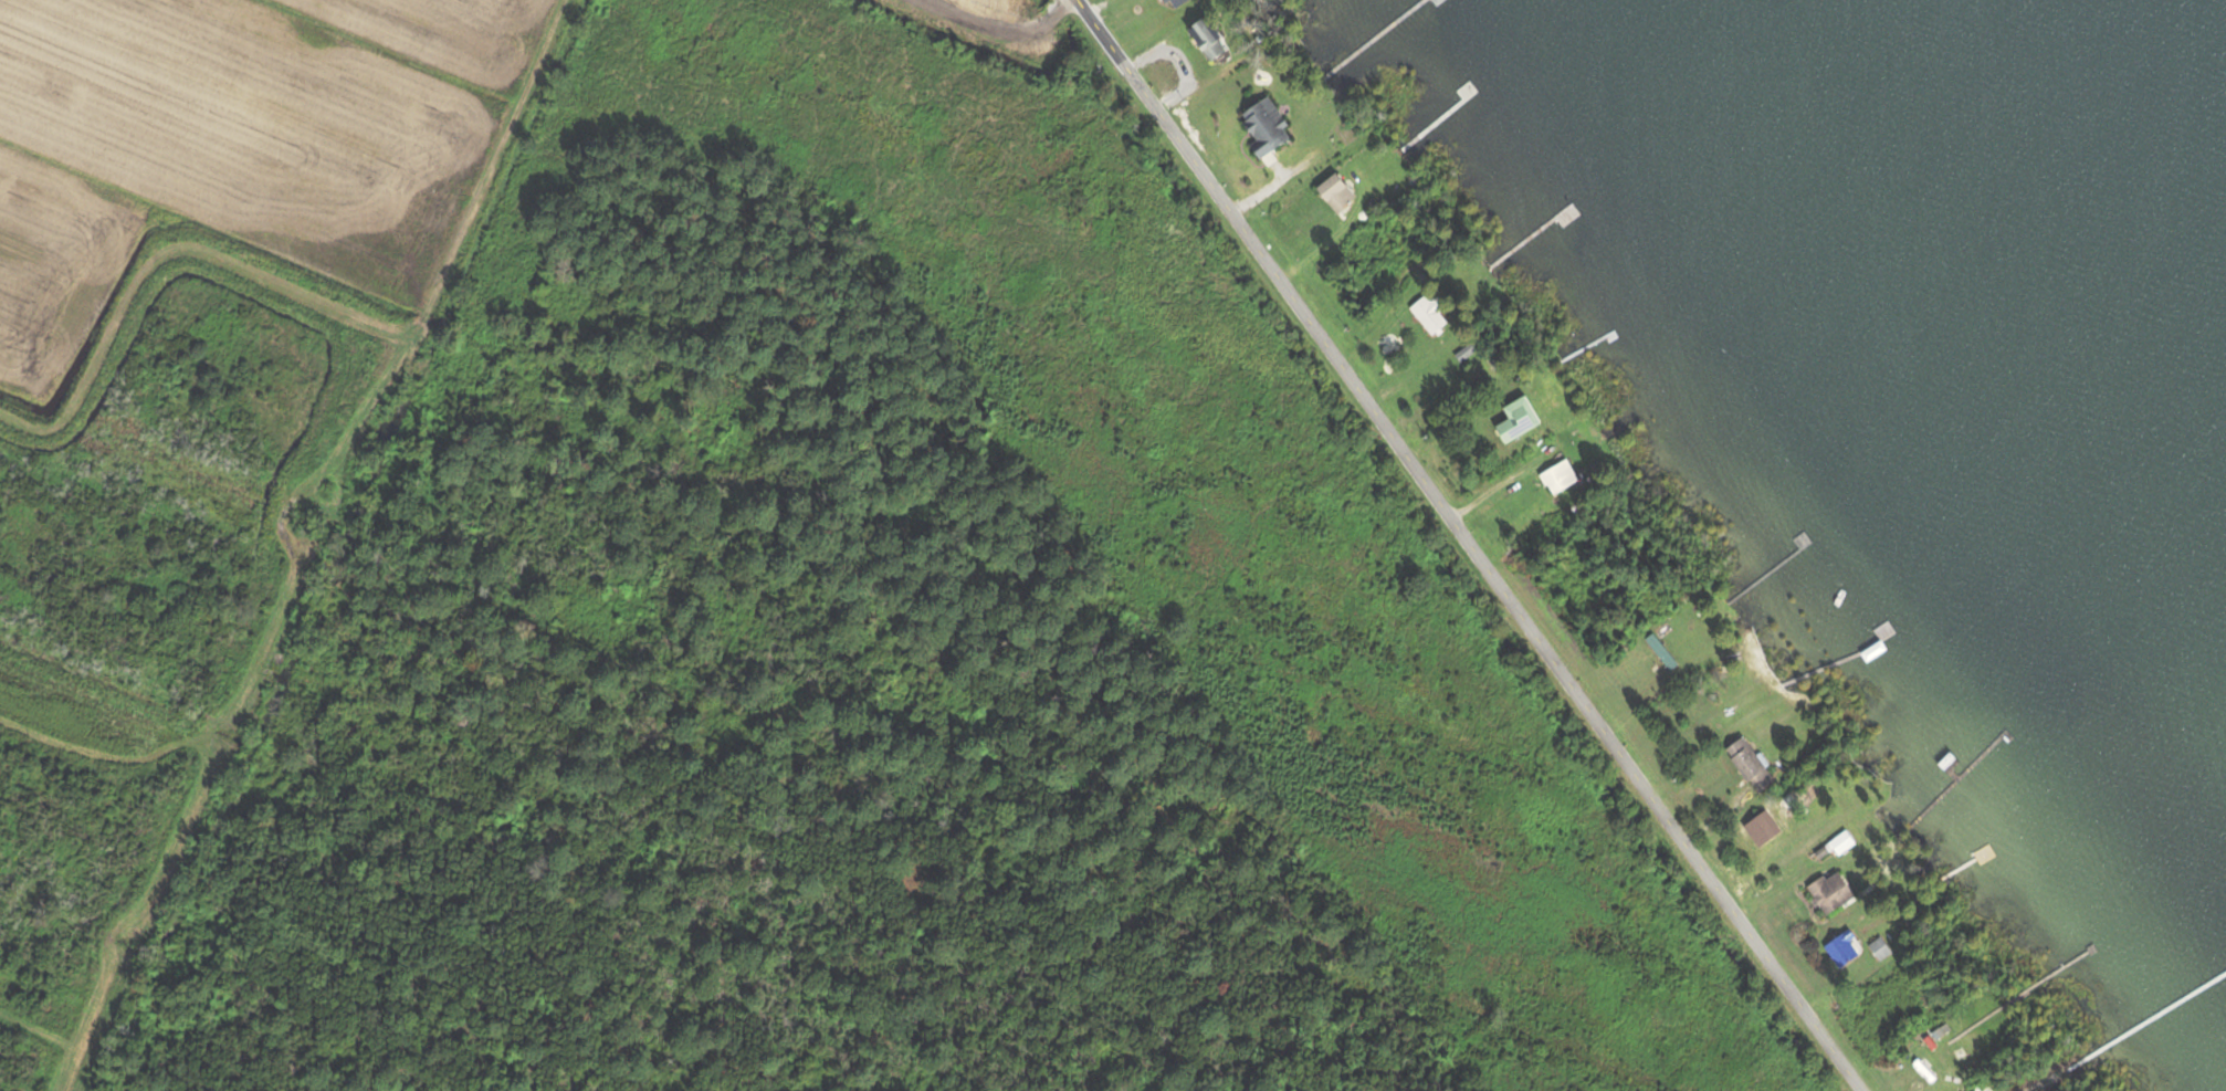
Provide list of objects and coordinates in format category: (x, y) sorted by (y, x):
building: (1173, 2)
building: (1435, 2)
crop: (990, 9)
road: (999, 28)
building: (1204, 36)
crop: (233, 141)
building: (1331, 192)
building: (1425, 314)
building: (1463, 352)
building: (1511, 420)
building: (1555, 476)
road: (315, 545)
road: (1470, 545)
building: (1658, 650)
building: (1746, 765)
building: (1838, 845)
building: (1827, 892)
building: (1840, 948)

